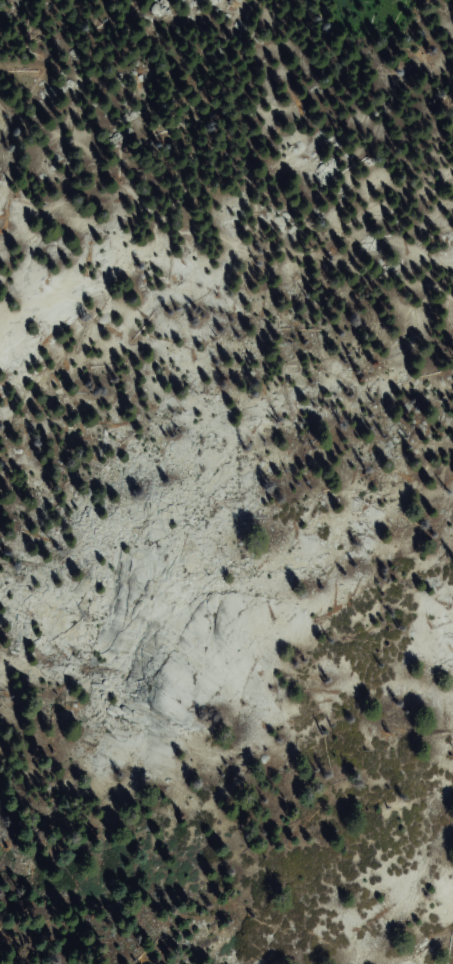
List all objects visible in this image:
road: (212, 230)

